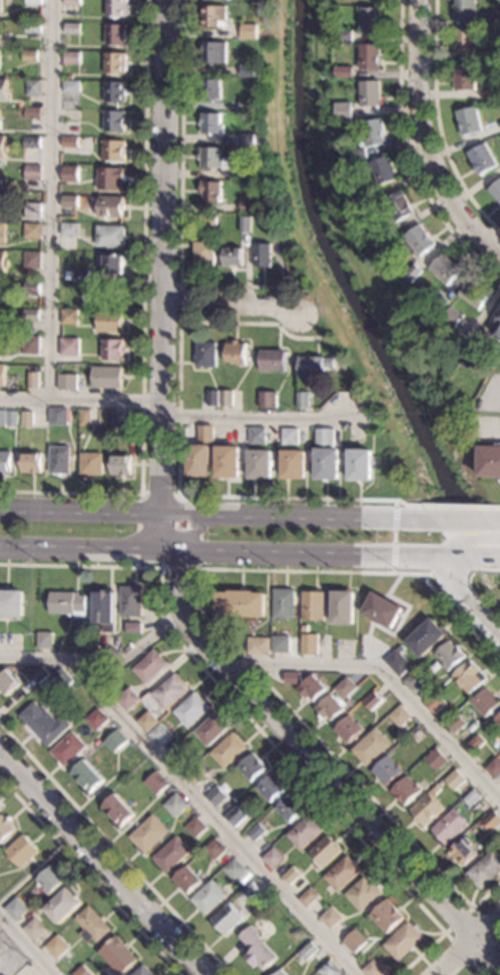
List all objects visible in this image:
building: (352, 1)
building: (35, 2)
building: (73, 2)
building: (1, 6)
building: (117, 8)
building: (466, 10)
building: (215, 16)
building: (498, 18)
building: (372, 20)
building: (33, 27)
building: (73, 29)
building: (0, 30)
building: (250, 31)
building: (116, 34)
building: (345, 35)
building: (466, 42)
building: (215, 52)
building: (493, 55)
building: (30, 56)
building: (371, 56)
building: (73, 58)
building: (0, 60)
building: (116, 63)
building: (248, 70)
building: (345, 71)
building: (466, 77)
building: (73, 86)
building: (35, 87)
building: (3, 89)
building: (212, 89)
building: (115, 92)
building: (371, 92)
building: (491, 92)
building: (250, 105)
building: (344, 111)
building: (33, 113)
building: (72, 115)
building: (0, 119)
building: (115, 121)
road: (423, 121)
building: (470, 121)
building: (212, 123)
road: (438, 123)
building: (370, 138)
building: (249, 139)
building: (32, 142)
building: (70, 142)
building: (3, 146)
building: (114, 150)
road: (410, 152)
building: (214, 159)
building: (484, 159)
building: (385, 170)
building: (33, 172)
building: (252, 173)
building: (70, 174)
building: (111, 178)
building: (496, 189)
building: (212, 191)
building: (368, 196)
road: (49, 200)
building: (70, 201)
road: (181, 201)
building: (248, 204)
building: (111, 206)
building: (401, 206)
building: (34, 211)
building: (209, 219)
building: (246, 224)
building: (273, 228)
building: (69, 230)
building: (32, 231)
building: (2, 232)
building: (387, 235)
building: (110, 236)
building: (422, 239)
road: (487, 242)
building: (205, 254)
building: (263, 255)
road: (165, 256)
building: (234, 257)
building: (32, 260)
building: (3, 261)
building: (113, 264)
building: (447, 269)
building: (414, 273)
building: (81, 277)
building: (32, 288)
river: (354, 289)
building: (476, 294)
building: (440, 301)
road: (180, 303)
road: (231, 307)
building: (31, 315)
building: (70, 317)
road: (144, 317)
building: (454, 317)
building: (2, 319)
building: (110, 321)
building: (447, 328)
building: (497, 328)
building: (31, 345)
building: (4, 347)
building: (69, 347)
building: (112, 349)
building: (237, 353)
building: (206, 354)
building: (474, 356)
building: (273, 360)
building: (314, 366)
building: (2, 374)
building: (107, 377)
building: (33, 380)
building: (71, 382)
road: (496, 394)
building: (213, 398)
building: (227, 398)
building: (268, 399)
building: (303, 400)
road: (80, 401)
building: (58, 416)
road: (256, 417)
building: (85, 418)
building: (12, 419)
building: (27, 419)
building: (119, 420)
road: (488, 432)
building: (257, 435)
building: (291, 436)
road: (177, 452)
building: (200, 453)
building: (327, 455)
building: (60, 460)
building: (6, 461)
building: (228, 461)
building: (490, 461)
building: (31, 462)
building: (91, 464)
building: (261, 464)
building: (120, 465)
building: (294, 465)
building: (361, 465)
road: (175, 495)
road: (453, 505)
road: (208, 514)
road: (426, 521)
road: (467, 521)
road: (170, 532)
road: (467, 533)
road: (402, 538)
road: (423, 540)
road: (215, 552)
road: (440, 559)
road: (449, 559)
road: (475, 559)
road: (436, 566)
road: (487, 570)
road: (446, 573)
park: (493, 585)
building: (131, 601)
building: (12, 604)
building: (68, 604)
building: (240, 604)
building: (284, 604)
road: (470, 605)
building: (314, 606)
building: (344, 608)
building: (104, 610)
building: (384, 610)
building: (133, 627)
road: (217, 632)
building: (427, 638)
building: (44, 640)
building: (335, 642)
building: (309, 644)
building: (281, 645)
building: (259, 646)
building: (451, 656)
building: (399, 663)
road: (98, 664)
building: (150, 667)
building: (39, 676)
building: (292, 678)
road: (389, 678)
building: (470, 678)
building: (61, 680)
building: (7, 682)
building: (416, 682)
building: (345, 688)
building: (312, 689)
building: (170, 692)
building: (128, 700)
building: (373, 701)
building: (435, 703)
building: (485, 703)
building: (329, 708)
building: (191, 710)
building: (400, 717)
building: (97, 720)
road: (250, 720)
building: (147, 722)
building: (498, 722)
building: (45, 724)
building: (456, 725)
building: (211, 730)
building: (349, 730)
building: (418, 734)
building: (159, 735)
building: (116, 741)
building: (476, 744)
building: (371, 748)
building: (68, 750)
building: (228, 751)
road: (306, 753)
building: (179, 757)
building: (437, 761)
building: (251, 768)
building: (493, 768)
building: (388, 773)
building: (196, 776)
building: (87, 778)
building: (454, 782)
building: (155, 784)
building: (271, 789)
building: (406, 793)
building: (216, 798)
building: (472, 801)
building: (0, 807)
building: (175, 807)
building: (289, 809)
building: (427, 812)
building: (117, 813)
building: (235, 817)
road: (216, 820)
building: (491, 824)
building: (5, 828)
building: (195, 829)
building: (449, 829)
building: (256, 834)
building: (304, 834)
building: (148, 836)
road: (114, 849)
building: (215, 851)
building: (20, 852)
building: (324, 852)
building: (464, 853)
building: (171, 857)
building: (272, 860)
road: (102, 864)
building: (234, 871)
building: (486, 871)
building: (342, 875)
road: (89, 877)
building: (293, 880)
building: (186, 881)
building: (50, 882)
building: (249, 893)
building: (363, 896)
building: (308, 898)
building: (208, 899)
building: (63, 906)
building: (15, 911)
building: (387, 917)
building: (226, 919)
building: (331, 920)
building: (92, 926)
building: (33, 931)
road: (444, 932)
building: (403, 942)
building: (355, 943)
road: (467, 945)
road: (26, 946)
building: (57, 948)
building: (0, 950)
building: (256, 951)
road: (487, 952)
building: (308, 953)
building: (117, 956)
building: (329, 970)
building: (373, 970)
road: (477, 970)
building: (142, 971)
building: (82, 972)
building: (280, 973)

